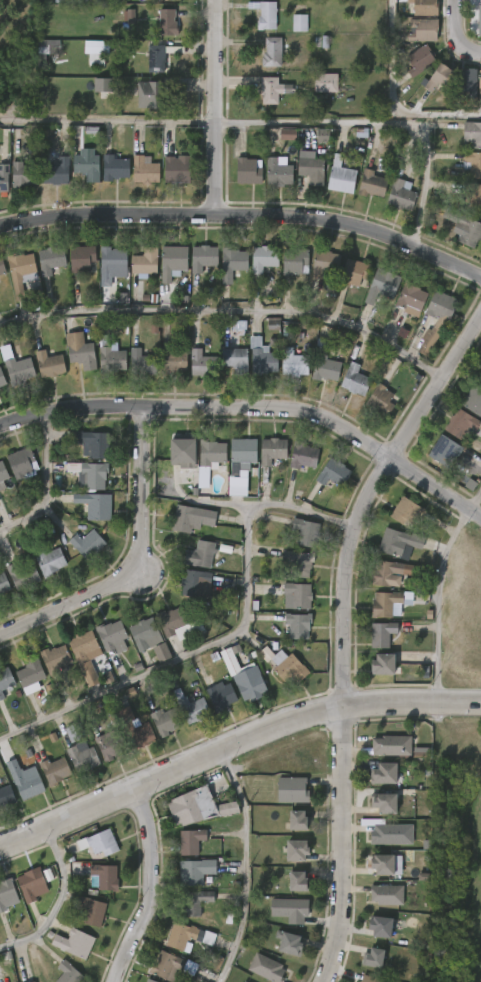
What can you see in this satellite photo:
building: (425, 7)
building: (264, 15)
building: (479, 19)
building: (166, 21)
building: (299, 23)
building: (422, 30)
road: (453, 36)
building: (95, 46)
building: (47, 47)
building: (272, 51)
building: (155, 58)
building: (419, 59)
building: (437, 76)
building: (463, 81)
building: (324, 82)
building: (104, 85)
building: (479, 85)
building: (269, 90)
building: (150, 95)
road: (393, 99)
road: (211, 107)
road: (105, 121)
road: (375, 123)
building: (472, 133)
building: (288, 134)
building: (322, 136)
building: (473, 163)
building: (85, 165)
building: (113, 168)
building: (143, 169)
building: (310, 169)
building: (176, 170)
building: (55, 171)
building: (248, 171)
building: (277, 171)
building: (22, 174)
building: (341, 176)
building: (3, 177)
building: (371, 184)
building: (401, 194)
building: (472, 195)
road: (245, 215)
building: (465, 228)
building: (202, 257)
building: (81, 258)
building: (263, 258)
building: (49, 260)
building: (145, 261)
building: (172, 261)
building: (295, 261)
building: (111, 262)
building: (231, 263)
building: (323, 263)
building: (1, 268)
building: (19, 271)
building: (354, 272)
building: (383, 285)
building: (410, 298)
building: (442, 306)
building: (274, 322)
road: (223, 327)
building: (431, 340)
building: (80, 350)
building: (110, 355)
building: (261, 357)
building: (173, 359)
building: (234, 360)
building: (141, 362)
building: (293, 362)
building: (324, 362)
building: (49, 363)
building: (202, 364)
building: (16, 366)
building: (2, 378)
building: (355, 380)
building: (480, 381)
building: (474, 399)
building: (381, 401)
road: (254, 407)
building: (463, 423)
building: (91, 443)
building: (183, 450)
building: (271, 450)
building: (444, 450)
building: (241, 455)
building: (303, 456)
building: (208, 459)
building: (21, 464)
building: (2, 471)
building: (333, 473)
building: (89, 474)
road: (43, 481)
building: (1, 486)
building: (237, 486)
road: (367, 497)
road: (474, 497)
building: (94, 505)
building: (406, 511)
building: (194, 517)
building: (306, 532)
building: (398, 542)
building: (87, 544)
building: (199, 554)
building: (48, 560)
road: (134, 560)
building: (297, 563)
building: (390, 571)
building: (21, 575)
building: (3, 584)
building: (196, 584)
building: (298, 595)
road: (439, 601)
building: (389, 603)
building: (171, 621)
building: (297, 625)
building: (382, 634)
building: (143, 635)
building: (111, 636)
road: (226, 637)
building: (85, 655)
building: (54, 659)
building: (382, 665)
building: (288, 666)
building: (29, 671)
building: (5, 680)
building: (251, 683)
building: (222, 695)
building: (194, 707)
building: (167, 720)
building: (134, 728)
building: (74, 732)
road: (232, 744)
building: (391, 744)
building: (112, 745)
building: (421, 752)
building: (82, 757)
building: (54, 770)
building: (386, 773)
building: (24, 781)
building: (291, 789)
building: (5, 796)
building: (382, 802)
building: (199, 807)
building: (295, 818)
building: (391, 834)
building: (189, 840)
building: (101, 842)
road: (342, 844)
building: (294, 849)
building: (383, 862)
road: (244, 866)
building: (194, 870)
building: (104, 875)
building: (296, 880)
building: (31, 883)
road: (155, 888)
building: (6, 891)
building: (387, 895)
building: (199, 900)
road: (55, 901)
building: (289, 909)
building: (91, 911)
building: (378, 926)
building: (181, 934)
building: (73, 942)
building: (287, 942)
building: (374, 957)
building: (168, 966)
building: (268, 968)
building: (70, 973)
building: (370, 979)
building: (149, 980)
building: (31, 981)
building: (34, 981)
building: (244, 981)
building: (247, 981)

